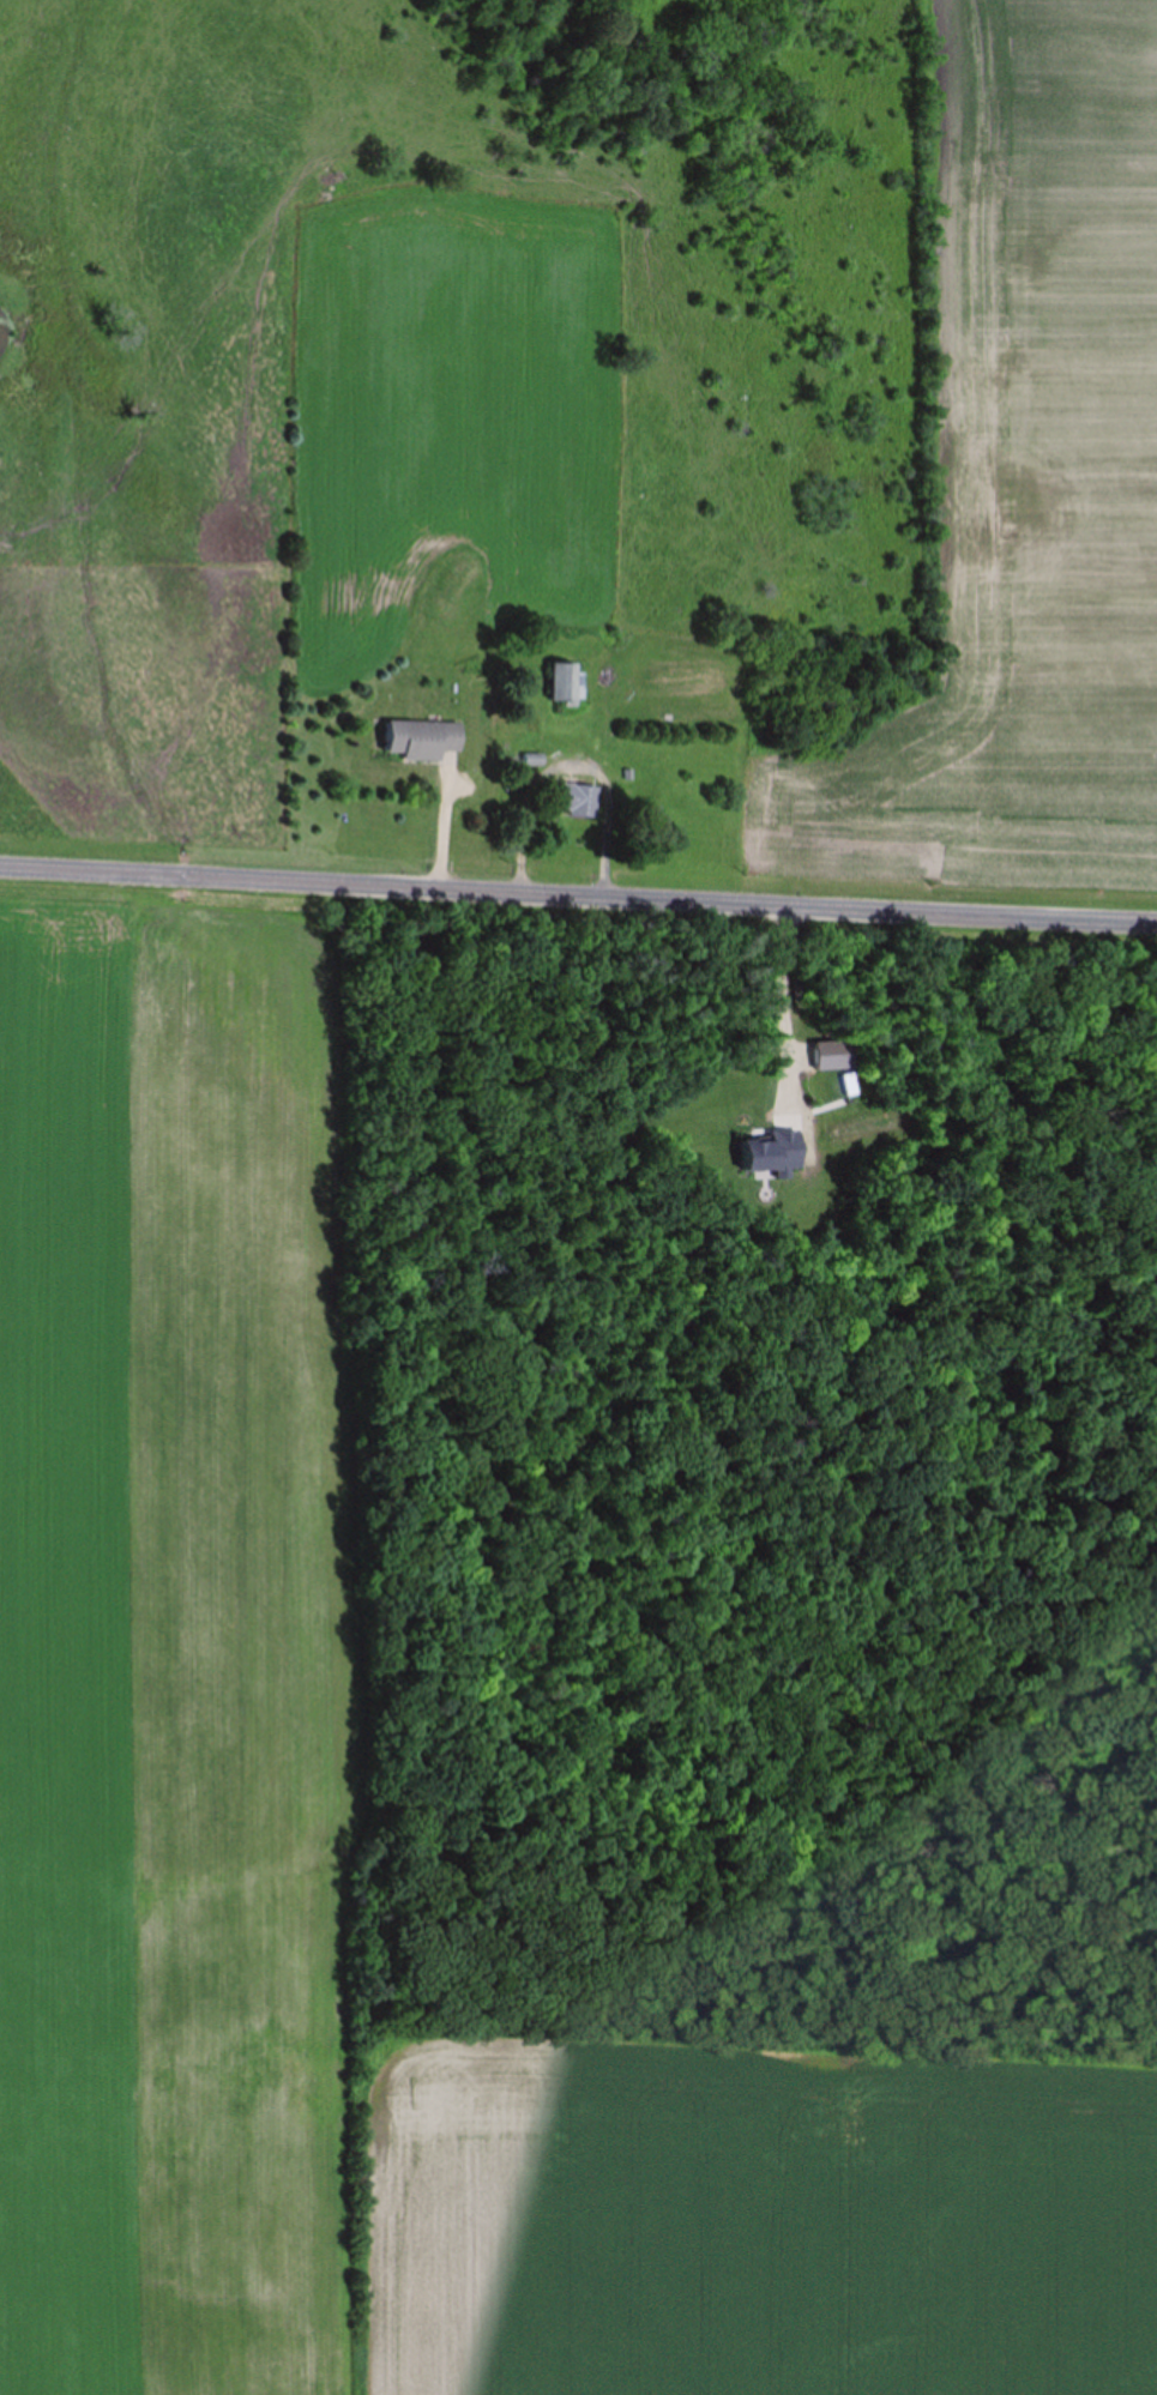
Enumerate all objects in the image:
building: (560, 684)
building: (417, 741)
building: (570, 801)
building: (646, 813)
road: (578, 891)

